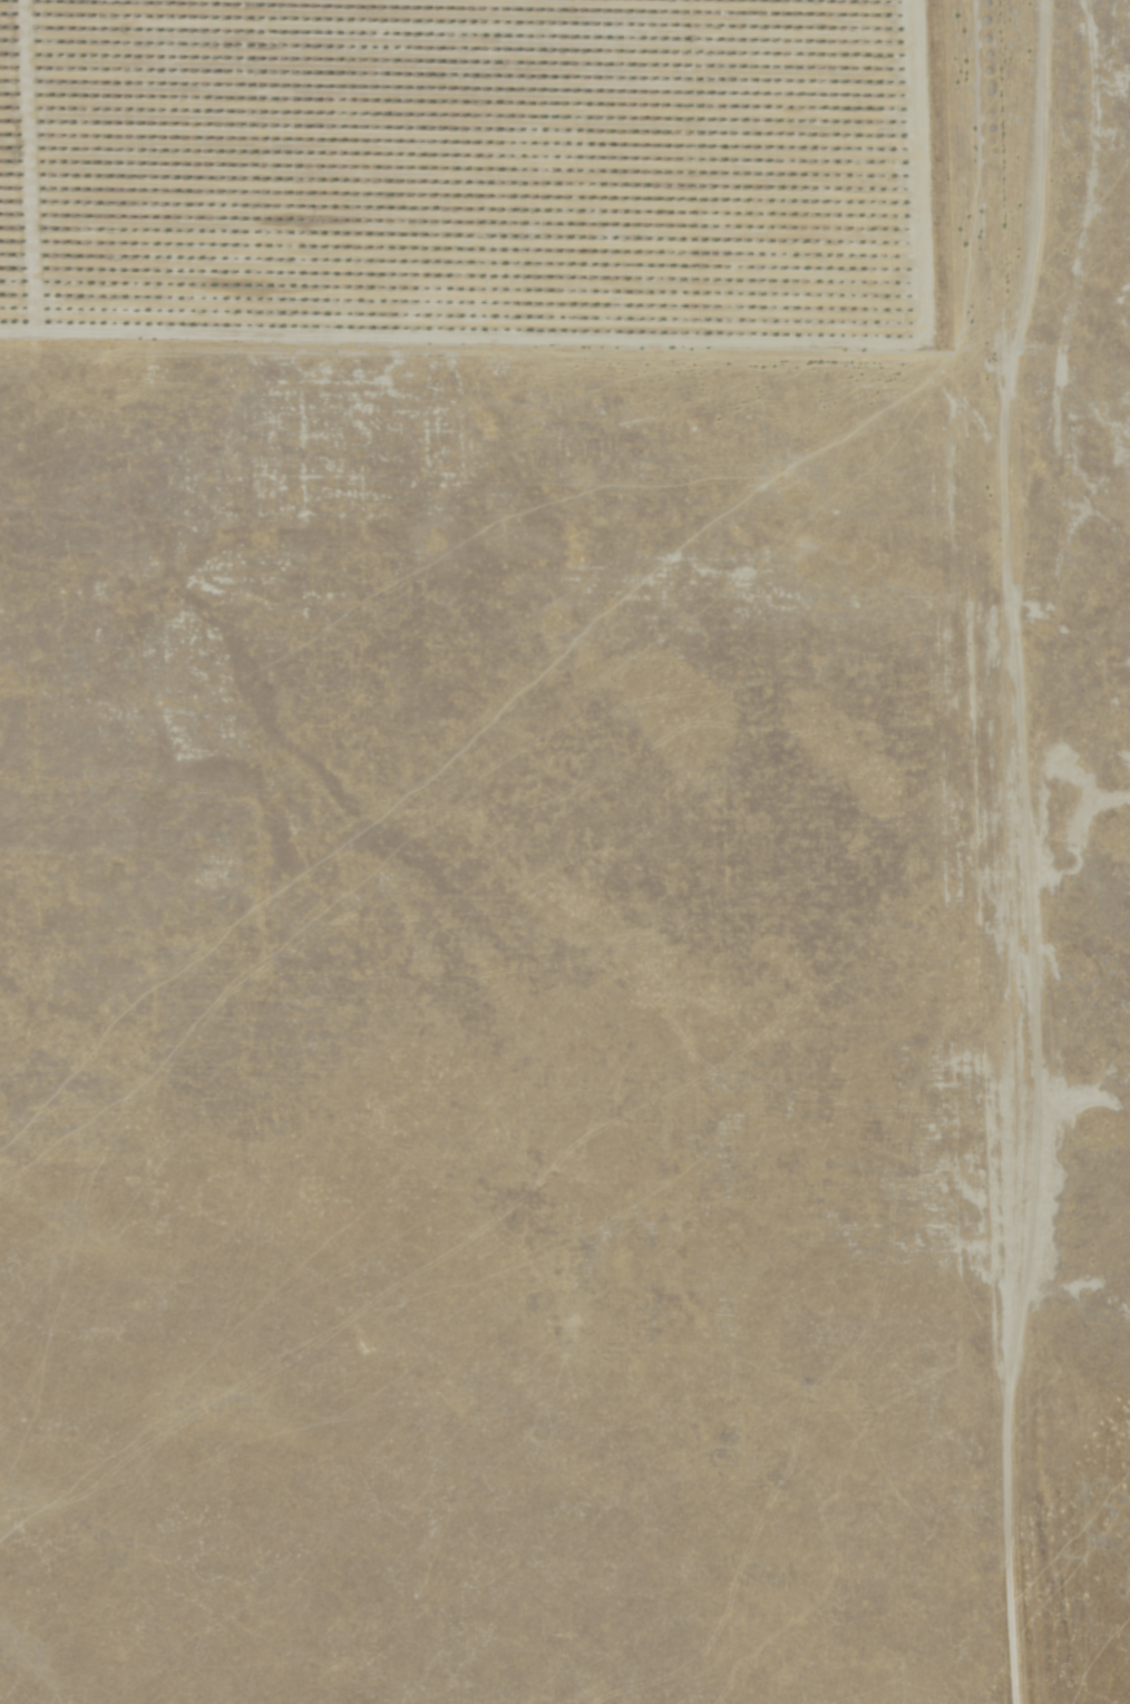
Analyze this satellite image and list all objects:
crop: (465, 173)
road: (1005, 851)

